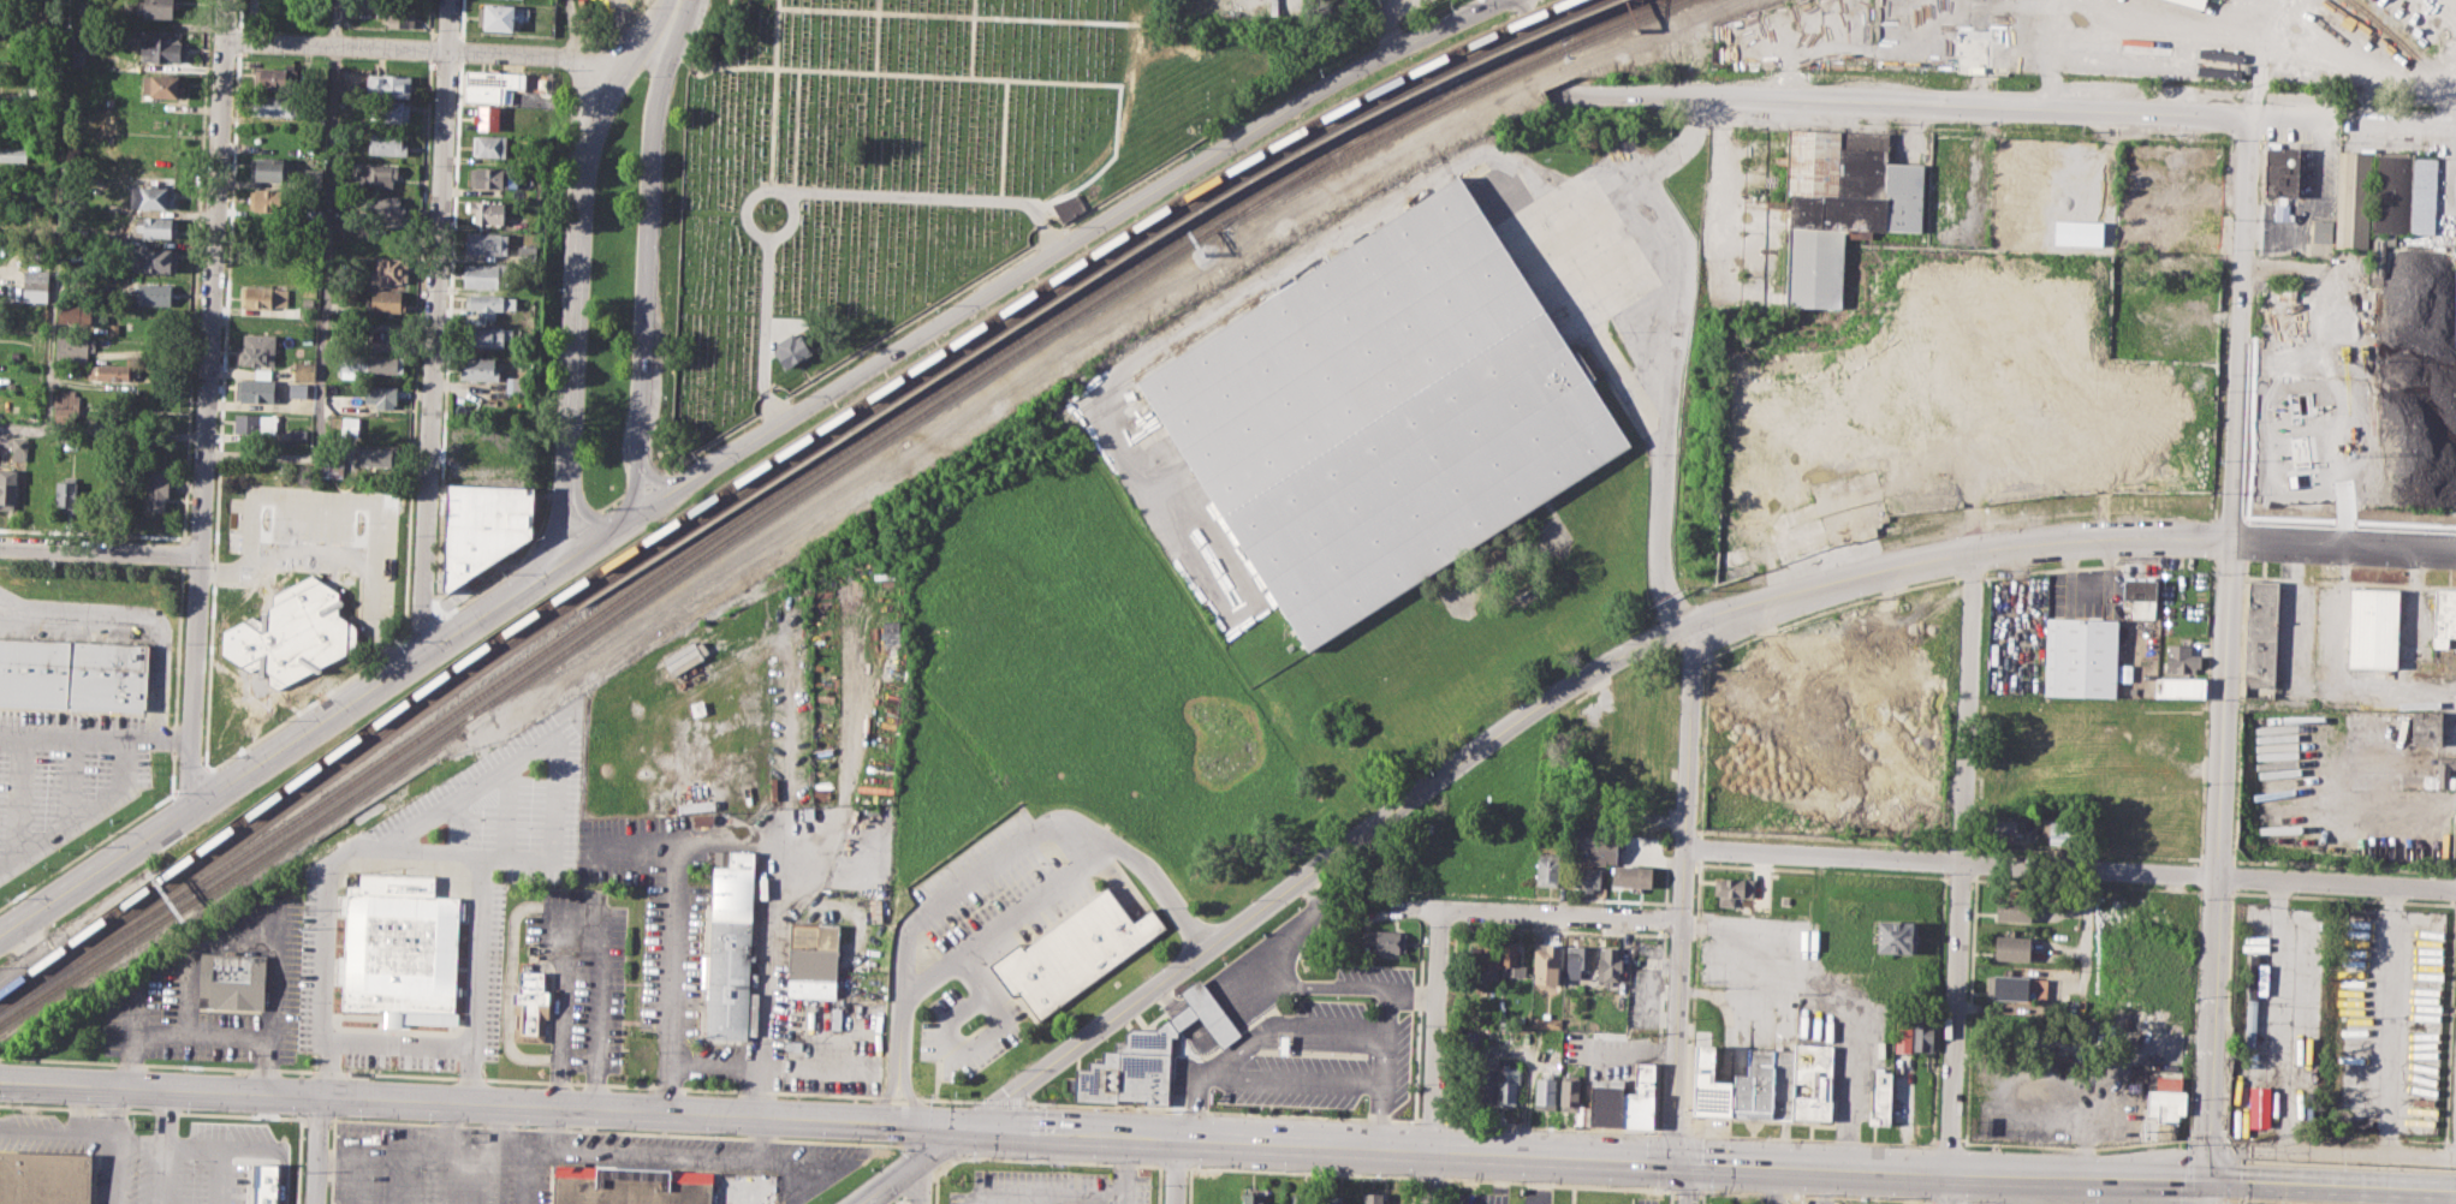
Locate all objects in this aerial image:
building: (50, 2)
building: (2200, 2)
road: (1528, 6)
building: (159, 7)
road: (676, 8)
building: (398, 13)
road: (959, 14)
building: (496, 16)
railway: (1604, 17)
railway: (1610, 17)
road: (335, 23)
road: (612, 25)
road: (2153, 26)
road: (573, 29)
building: (1952, 34)
road: (875, 35)
road: (971, 37)
railway: (1539, 41)
railway: (2407, 47)
road: (417, 48)
building: (162, 49)
railway: (1499, 64)
road: (927, 74)
building: (274, 77)
building: (496, 79)
building: (163, 85)
building: (387, 85)
building: (488, 94)
road: (773, 94)
railway: (1443, 102)
building: (273, 103)
road: (2005, 108)
building: (386, 111)
building: (492, 118)
road: (1003, 138)
building: (386, 144)
building: (492, 145)
building: (12, 154)
railway: (1327, 156)
building: (267, 169)
park: (886, 173)
building: (2285, 173)
building: (375, 174)
building: (493, 175)
road: (1645, 175)
building: (313, 178)
road: (1425, 178)
road: (1717, 184)
road: (797, 190)
railway: (1191, 192)
railway: (1212, 193)
building: (2407, 193)
building: (151, 196)
building: (269, 198)
building: (2355, 199)
building: (382, 205)
building: (1068, 207)
building: (1843, 207)
building: (486, 211)
building: (314, 215)
road: (789, 220)
building: (155, 226)
building: (2190, 232)
building: (2325, 232)
road: (54, 236)
building: (383, 236)
building: (487, 243)
road: (1059, 245)
building: (527, 254)
building: (160, 260)
road: (648, 264)
building: (389, 270)
road: (577, 270)
building: (487, 275)
building: (36, 279)
building: (154, 294)
building: (262, 296)
building: (307, 300)
building: (385, 300)
building: (2455, 302)
building: (489, 303)
road: (325, 304)
building: (75, 312)
road: (436, 326)
building: (113, 328)
building: (488, 335)
building: (307, 338)
building: (388, 341)
building: (73, 348)
building: (256, 348)
building: (790, 350)
building: (367, 363)
building: (480, 368)
building: (112, 370)
building: (304, 370)
building: (516, 383)
building: (298, 389)
building: (257, 391)
building: (381, 394)
road: (209, 401)
building: (65, 404)
building: (1386, 415)
building: (255, 422)
building: (351, 425)
building: (298, 434)
building: (19, 448)
building: (156, 454)
building: (376, 455)
building: (332, 469)
railway: (793, 481)
building: (7, 488)
building: (156, 490)
building: (66, 495)
road: (307, 508)
building: (482, 529)
building: (1797, 531)
road: (93, 532)
parking lot: (319, 538)
road: (101, 547)
road: (182, 553)
road: (344, 559)
railway: (694, 560)
building: (2141, 596)
building: (2440, 614)
road: (135, 618)
building: (2371, 627)
building: (891, 632)
building: (2261, 632)
building: (291, 634)
railway: (490, 642)
road: (1641, 646)
road: (2226, 646)
railway: (498, 651)
building: (2081, 656)
building: (2181, 658)
building: (73, 673)
building: (2178, 687)
road: (316, 726)
building: (2428, 727)
road: (84, 739)
road: (180, 740)
parking lot: (64, 776)
building: (2427, 776)
road: (73, 780)
road: (171, 780)
road: (23, 797)
road: (82, 815)
building: (2002, 828)
road: (724, 834)
building: (1594, 848)
road: (405, 851)
road: (1003, 853)
road: (2073, 866)
building: (1548, 869)
building: (1631, 876)
road: (1958, 877)
building: (1587, 878)
building: (1731, 889)
road: (1687, 892)
road: (522, 906)
building: (2012, 908)
road: (1563, 914)
road: (1003, 920)
road: (1295, 930)
road: (2085, 931)
railway: (77, 936)
parking lot: (982, 936)
building: (1895, 937)
building: (1386, 940)
parking lot: (557, 941)
road: (209, 944)
building: (731, 947)
railway: (81, 948)
building: (2011, 948)
building: (403, 950)
building: (1075, 953)
railway: (84, 954)
building: (1511, 959)
building: (1576, 959)
building: (1485, 961)
building: (1545, 961)
building: (814, 962)
building: (1608, 962)
road: (1719, 962)
railway: (88, 965)
parking lot: (171, 966)
parking lot: (584, 974)
building: (2258, 977)
building: (232, 981)
road: (1340, 987)
building: (2006, 987)
road: (1788, 990)
road: (594, 995)
road: (1411, 996)
building: (2157, 1000)
building: (530, 1008)
building: (1546, 1021)
road: (1288, 1024)
building: (1923, 1033)
building: (1903, 1036)
road: (224, 1037)
road: (1384, 1043)
road: (396, 1044)
parking lot: (1318, 1047)
building: (1150, 1055)
road: (1434, 1056)
road: (715, 1063)
road: (1288, 1078)
building: (1486, 1079)
building: (1812, 1080)
building: (1783, 1081)
building: (1508, 1084)
building: (1755, 1085)
building: (1708, 1086)
road: (1848, 1087)
road: (159, 1089)
building: (1544, 1091)
building: (1569, 1091)
road: (884, 1095)
road: (909, 1095)
building: (1880, 1096)
building: (1639, 1097)
building: (2164, 1098)
building: (1606, 1101)
flagpole: (1129, 1103)
road: (77, 1105)
road: (641, 1110)
road: (162, 1117)
road: (38, 1130)
road: (373, 1148)
road: (115, 1149)
road: (248, 1149)
road: (316, 1150)
road: (446, 1150)
road: (501, 1152)
road: (635, 1156)
road: (1583, 1157)
road: (772, 1162)
road: (910, 1164)
road: (1123, 1169)
road: (1176, 1170)
road: (161, 1174)
road: (216, 1175)
building: (46, 1178)
road: (525, 1178)
road: (2224, 1179)
road: (922, 1180)
road: (1689, 1182)
building: (264, 1184)
road: (2349, 1184)
building: (631, 1186)
parking lot: (1052, 1187)
road: (2204, 1191)
road: (2211, 1191)
road: (1010, 1193)
road: (1083, 1196)
road: (1813, 1196)
building: (1251, 1197)
building: (1374, 1198)
building: (1396, 1198)
parking lot: (1476, 1198)
parking lot: (1732, 1199)
parking lot: (1647, 1200)
road: (1946, 1202)
road: (1974, 1203)

